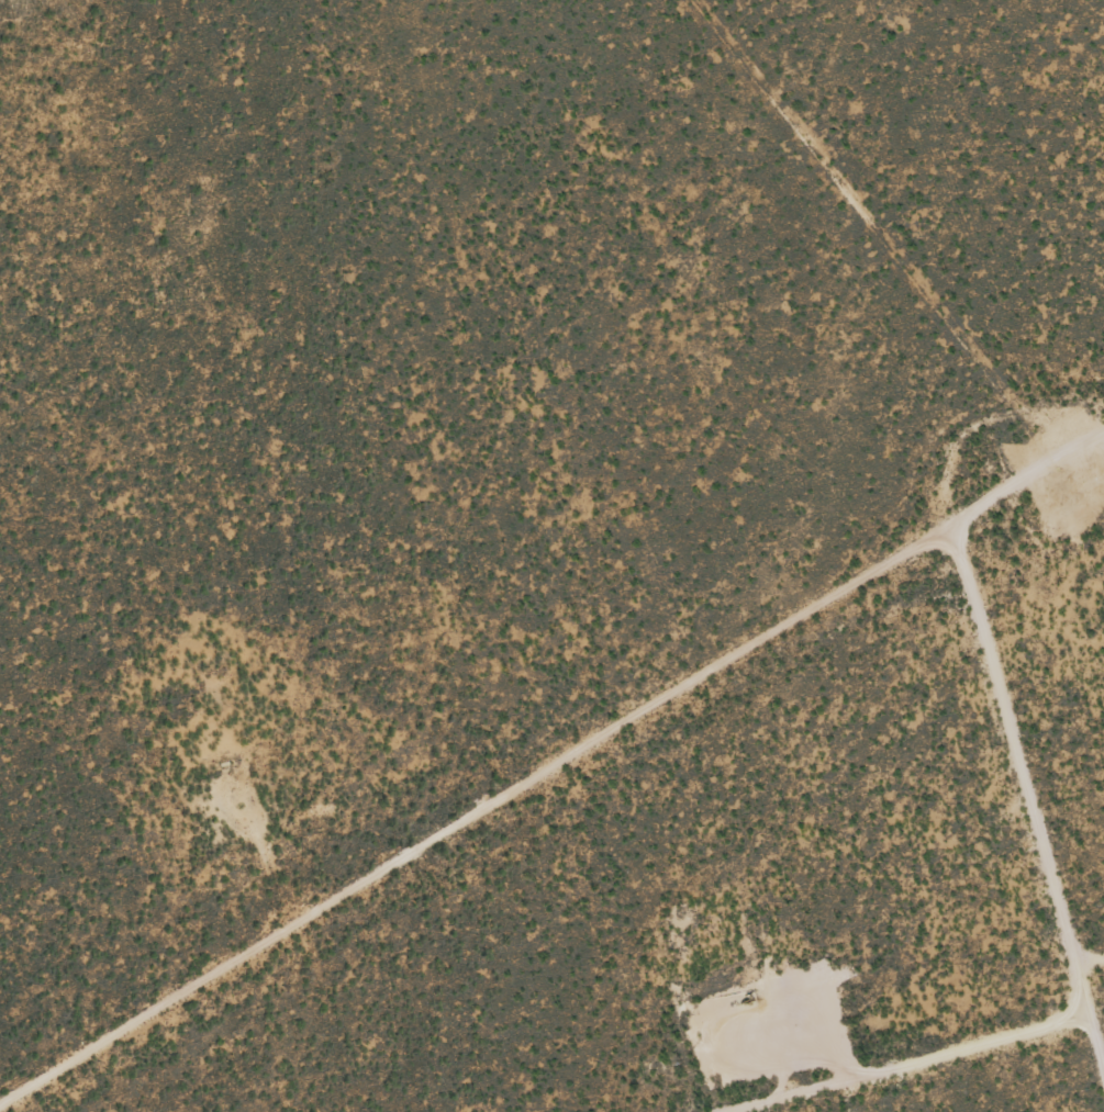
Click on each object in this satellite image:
road: (661, 701)
road: (911, 1056)

